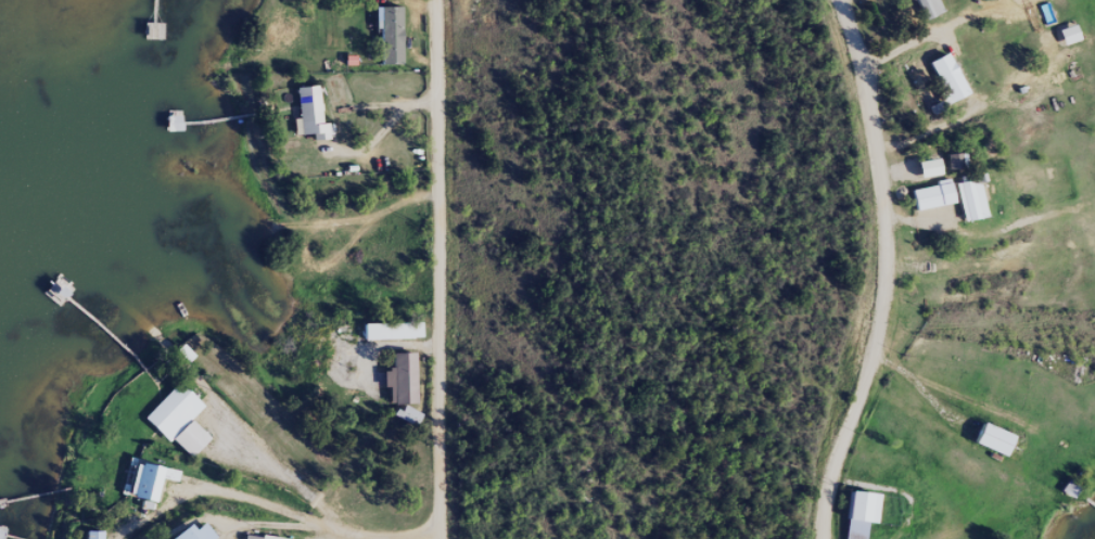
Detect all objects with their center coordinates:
building: (921, 12)
building: (1064, 42)
building: (384, 43)
building: (944, 86)
building: (306, 121)
building: (947, 168)
building: (920, 176)
building: (927, 203)
building: (965, 207)
road: (438, 269)
road: (888, 271)
building: (389, 339)
building: (397, 387)
building: (408, 423)
building: (176, 428)
building: (986, 448)
building: (144, 491)
building: (854, 518)
road: (433, 534)
building: (193, 535)

